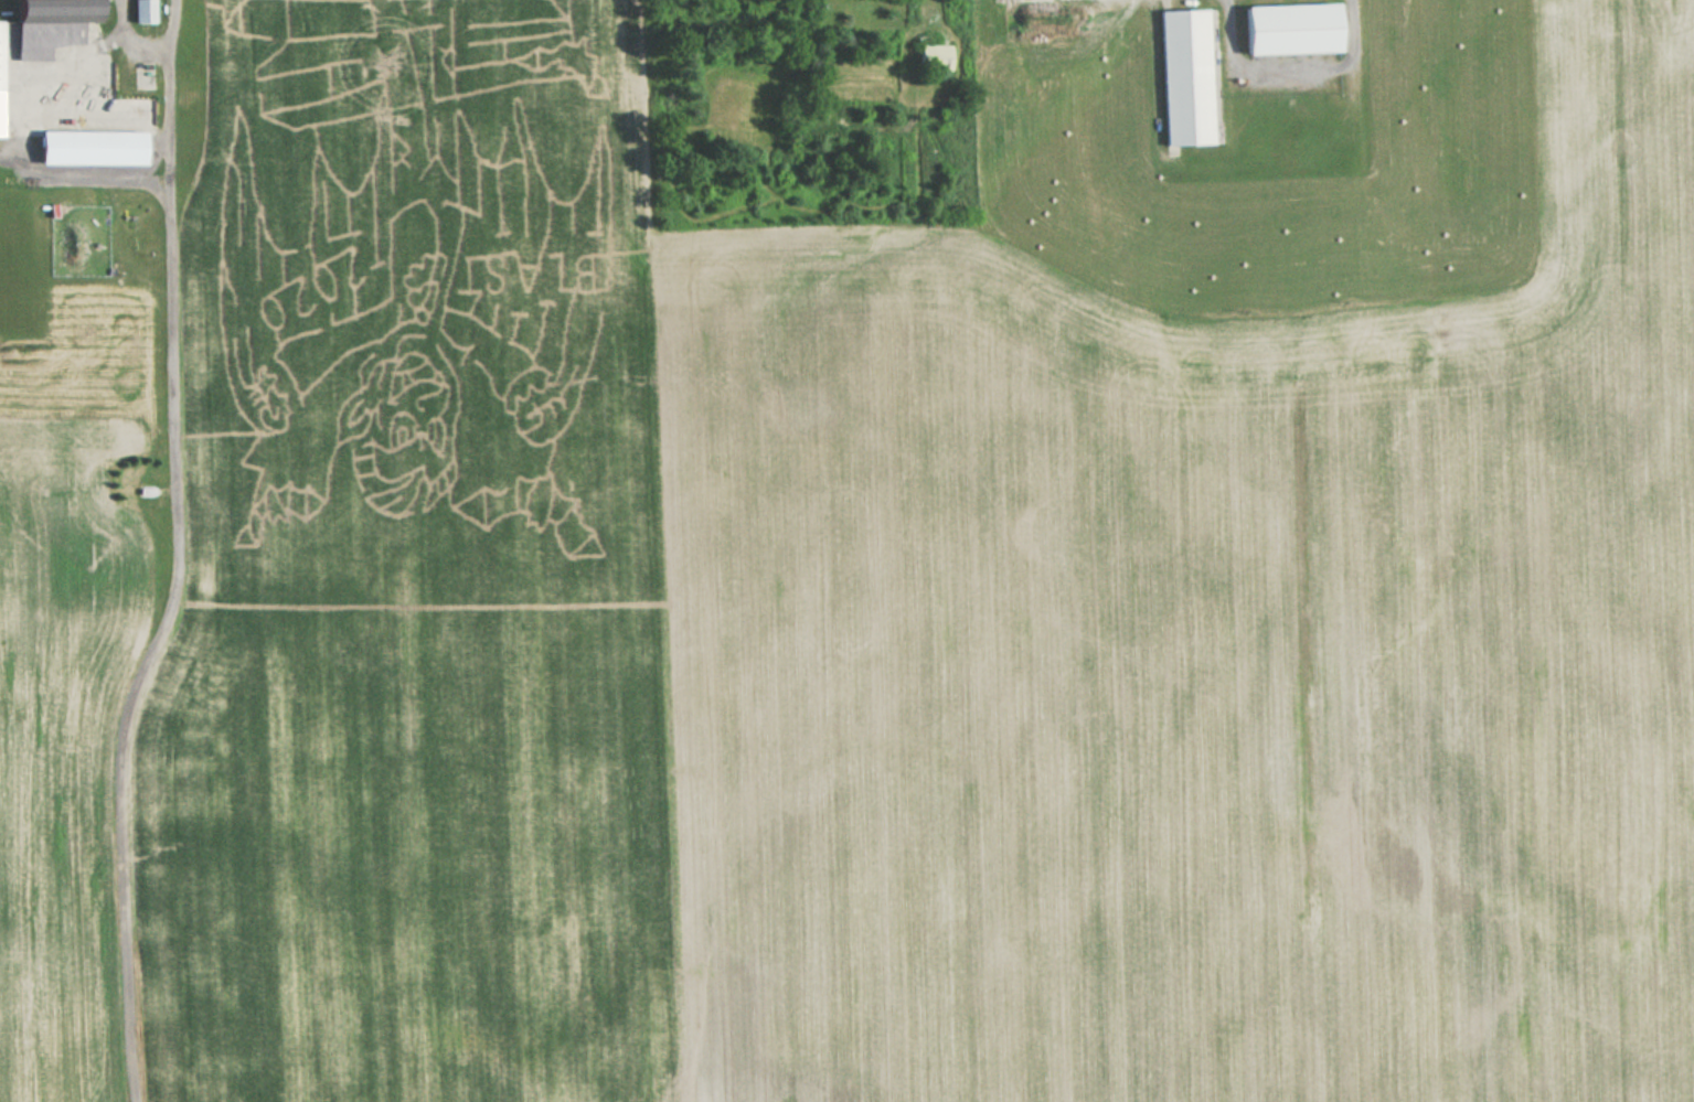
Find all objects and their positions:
building: (56, 10)
building: (142, 11)
building: (1291, 29)
road: (131, 36)
building: (44, 38)
building: (934, 56)
building: (1189, 76)
building: (0, 84)
building: (90, 147)
road: (157, 158)
road: (85, 179)
road: (175, 555)

